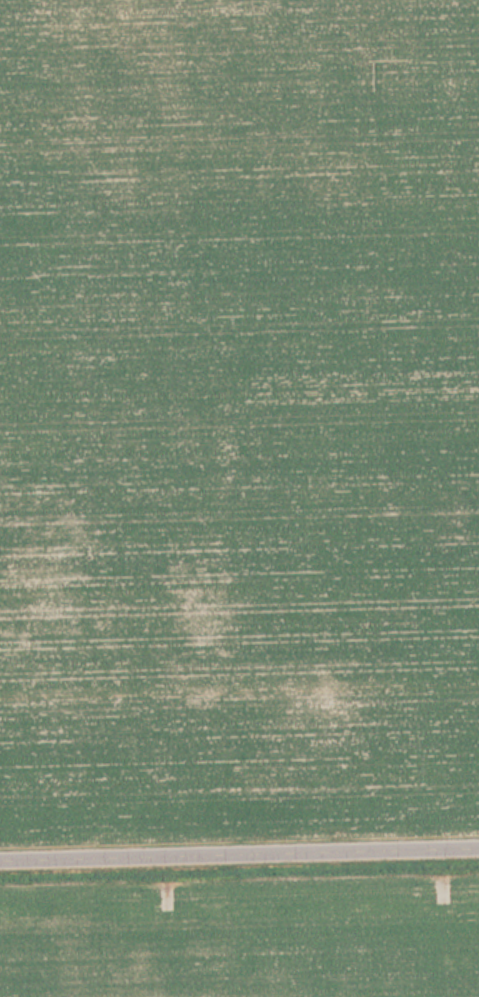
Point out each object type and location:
road: (239, 852)

